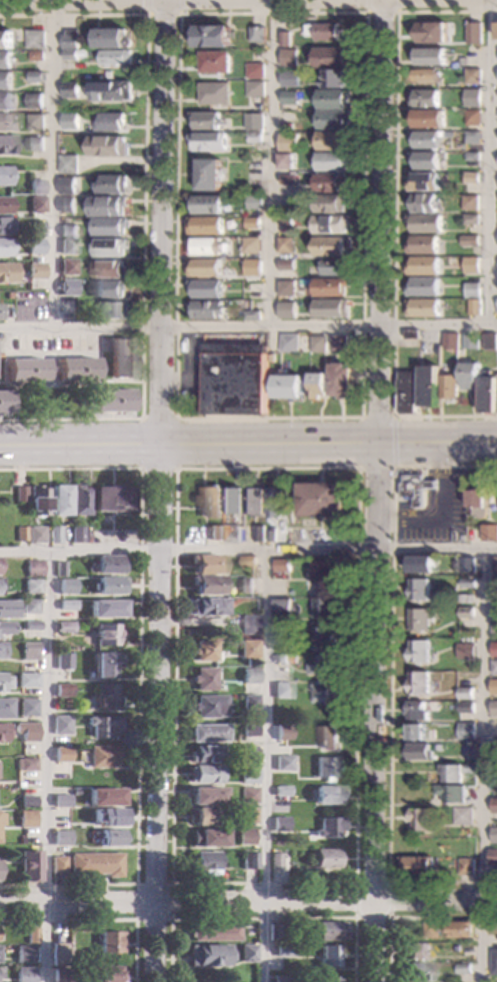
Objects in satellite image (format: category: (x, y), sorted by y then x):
road: (27, 0)
road: (364, 12)
road: (381, 12)
road: (160, 15)
building: (325, 31)
building: (431, 32)
building: (257, 33)
building: (474, 33)
building: (210, 37)
building: (111, 38)
building: (284, 38)
building: (4, 39)
building: (33, 39)
building: (68, 39)
building: (69, 55)
building: (35, 56)
building: (115, 57)
building: (288, 57)
building: (332, 57)
building: (430, 57)
building: (5, 59)
building: (213, 61)
building: (463, 62)
building: (254, 70)
building: (425, 76)
building: (474, 76)
building: (23, 77)
building: (36, 77)
building: (289, 78)
building: (335, 79)
building: (5, 80)
building: (255, 88)
building: (69, 90)
building: (110, 91)
building: (214, 93)
building: (288, 98)
building: (424, 98)
building: (473, 98)
building: (332, 99)
building: (5, 101)
building: (33, 101)
building: (260, 108)
building: (286, 116)
building: (253, 117)
building: (473, 117)
building: (428, 118)
building: (333, 119)
building: (205, 120)
building: (70, 121)
building: (109, 121)
building: (5, 122)
building: (35, 122)
building: (449, 134)
building: (297, 135)
building: (285, 137)
building: (473, 137)
building: (254, 138)
building: (425, 139)
building: (333, 140)
building: (209, 141)
building: (34, 144)
building: (6, 146)
building: (107, 146)
building: (472, 156)
building: (425, 160)
building: (285, 161)
building: (332, 161)
road: (490, 162)
building: (68, 163)
road: (272, 163)
road: (53, 164)
building: (209, 174)
building: (3, 177)
building: (471, 178)
building: (287, 179)
building: (423, 182)
building: (330, 183)
building: (67, 184)
building: (113, 185)
building: (35, 188)
building: (469, 188)
building: (254, 202)
building: (470, 202)
building: (329, 203)
building: (423, 203)
building: (206, 204)
building: (35, 205)
building: (66, 205)
building: (3, 206)
building: (108, 206)
road: (394, 215)
road: (142, 216)
building: (470, 219)
building: (284, 221)
building: (251, 223)
building: (425, 223)
building: (330, 224)
building: (109, 226)
building: (206, 226)
building: (3, 227)
building: (33, 230)
building: (67, 231)
building: (469, 241)
building: (251, 245)
building: (285, 245)
building: (333, 245)
building: (422, 245)
building: (33, 247)
building: (66, 247)
building: (110, 247)
building: (206, 247)
building: (3, 248)
building: (470, 263)
building: (252, 264)
building: (286, 264)
building: (333, 266)
building: (423, 266)
building: (65, 267)
building: (205, 267)
building: (110, 269)
building: (33, 272)
building: (6, 274)
building: (250, 285)
building: (330, 287)
building: (423, 287)
building: (65, 288)
building: (285, 288)
building: (206, 289)
building: (108, 290)
building: (472, 290)
building: (5, 296)
building: (496, 301)
building: (474, 306)
building: (331, 308)
building: (423, 308)
building: (209, 309)
building: (114, 310)
building: (286, 310)
building: (251, 315)
road: (248, 326)
building: (411, 335)
building: (470, 340)
building: (450, 341)
building: (490, 341)
building: (288, 343)
building: (338, 343)
building: (317, 345)
road: (97, 355)
building: (119, 358)
building: (74, 370)
building: (23, 371)
building: (469, 375)
building: (234, 379)
building: (340, 380)
building: (317, 385)
building: (287, 386)
building: (428, 386)
building: (448, 386)
road: (70, 389)
building: (489, 391)
building: (406, 392)
building: (110, 401)
building: (3, 402)
road: (13, 405)
road: (83, 405)
road: (376, 416)
road: (157, 420)
road: (393, 441)
road: (248, 448)
road: (374, 466)
road: (157, 469)
road: (425, 470)
road: (443, 474)
building: (414, 487)
road: (155, 490)
road: (375, 490)
building: (18, 495)
building: (110, 499)
building: (319, 499)
building: (254, 500)
building: (57, 501)
building: (78, 501)
building: (233, 501)
building: (36, 502)
building: (274, 502)
road: (430, 502)
building: (477, 502)
building: (212, 503)
road: (443, 516)
building: (215, 533)
building: (232, 533)
building: (259, 533)
building: (489, 533)
building: (18, 534)
building: (271, 534)
building: (34, 536)
building: (58, 536)
building: (75, 536)
road: (248, 550)
building: (249, 561)
building: (494, 563)
building: (420, 564)
building: (108, 565)
building: (204, 565)
building: (282, 565)
building: (467, 565)
building: (31, 568)
building: (58, 569)
building: (323, 572)
building: (468, 583)
building: (205, 585)
building: (107, 586)
building: (245, 586)
building: (494, 586)
building: (29, 587)
building: (64, 587)
building: (419, 589)
building: (16, 596)
building: (466, 598)
building: (65, 606)
building: (28, 607)
building: (206, 607)
building: (283, 607)
building: (330, 607)
building: (5, 609)
building: (104, 609)
building: (494, 610)
building: (466, 612)
building: (419, 619)
building: (246, 625)
building: (493, 625)
building: (29, 626)
building: (63, 628)
building: (3, 629)
building: (282, 632)
building: (105, 635)
building: (325, 636)
building: (494, 649)
building: (246, 650)
building: (466, 650)
building: (419, 651)
building: (28, 652)
building: (202, 652)
building: (283, 659)
building: (470, 659)
building: (62, 662)
building: (324, 664)
building: (104, 665)
building: (494, 667)
road: (137, 675)
building: (247, 676)
road: (390, 677)
building: (201, 680)
building: (26, 681)
building: (419, 682)
building: (3, 683)
building: (494, 687)
building: (279, 690)
building: (62, 691)
building: (322, 691)
building: (466, 693)
building: (105, 697)
building: (247, 703)
building: (207, 707)
building: (466, 707)
building: (27, 708)
building: (494, 708)
building: (3, 709)
building: (417, 711)
building: (60, 726)
building: (101, 727)
building: (494, 729)
building: (247, 731)
building: (26, 732)
building: (417, 732)
building: (2, 733)
building: (206, 733)
building: (281, 733)
building: (466, 733)
building: (328, 737)
building: (439, 748)
building: (495, 749)
building: (418, 752)
building: (201, 754)
building: (61, 755)
building: (247, 756)
building: (101, 757)
building: (281, 763)
building: (25, 765)
road: (484, 765)
road: (263, 766)
road: (44, 767)
building: (324, 768)
building: (469, 769)
building: (451, 773)
building: (201, 775)
building: (247, 776)
building: (494, 776)
building: (19, 786)
building: (280, 792)
building: (74, 793)
building: (451, 793)
building: (325, 795)
building: (246, 796)
building: (203, 797)
building: (102, 798)
building: (25, 802)
building: (60, 802)
building: (494, 805)
building: (463, 815)
building: (106, 817)
building: (199, 817)
building: (246, 817)
building: (0, 819)
building: (421, 819)
building: (25, 820)
building: (278, 825)
building: (327, 827)
building: (79, 829)
building: (494, 835)
building: (244, 837)
building: (206, 838)
building: (60, 839)
building: (109, 839)
building: (493, 856)
building: (283, 859)
building: (325, 859)
building: (247, 862)
building: (274, 862)
building: (204, 863)
building: (94, 864)
building: (416, 865)
building: (56, 866)
building: (467, 866)
building: (28, 867)
road: (370, 884)
road: (170, 885)
road: (170, 885)
road: (353, 901)
road: (389, 901)
road: (248, 902)
road: (411, 918)
road: (263, 919)
road: (371, 919)
road: (97, 922)
building: (448, 929)
building: (329, 932)
building: (213, 933)
building: (274, 933)
building: (30, 936)
building: (108, 943)
building: (282, 952)
building: (416, 952)
building: (246, 954)
building: (22, 955)
building: (56, 956)
building: (205, 956)
building: (327, 957)
building: (494, 962)
building: (465, 968)
building: (0, 973)
building: (24, 973)
building: (413, 973)
building: (101, 975)
building: (56, 976)
building: (278, 979)
building: (327, 980)

